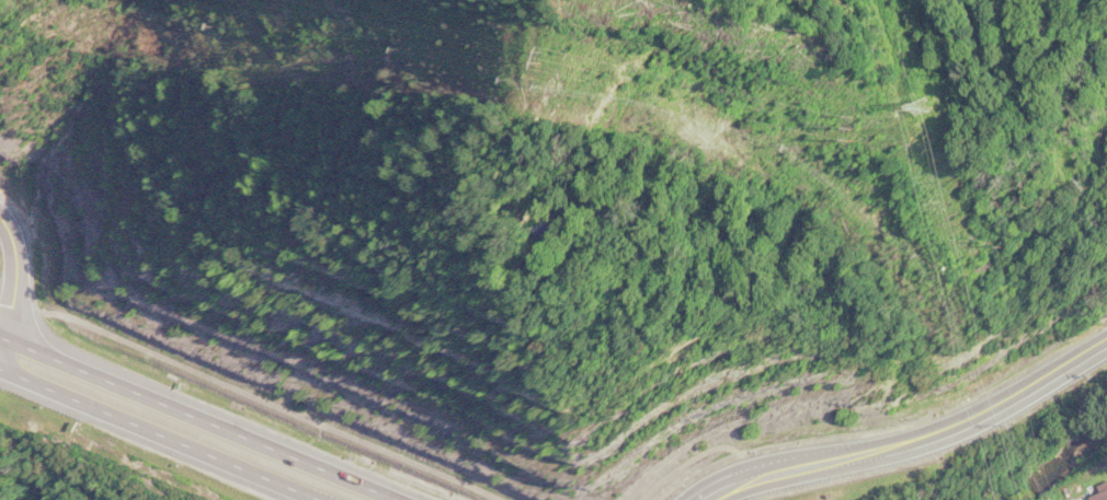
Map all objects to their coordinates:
power tower: (903, 105)
road: (27, 347)
road: (226, 429)
road: (160, 435)
road: (915, 439)
building: (1102, 495)

